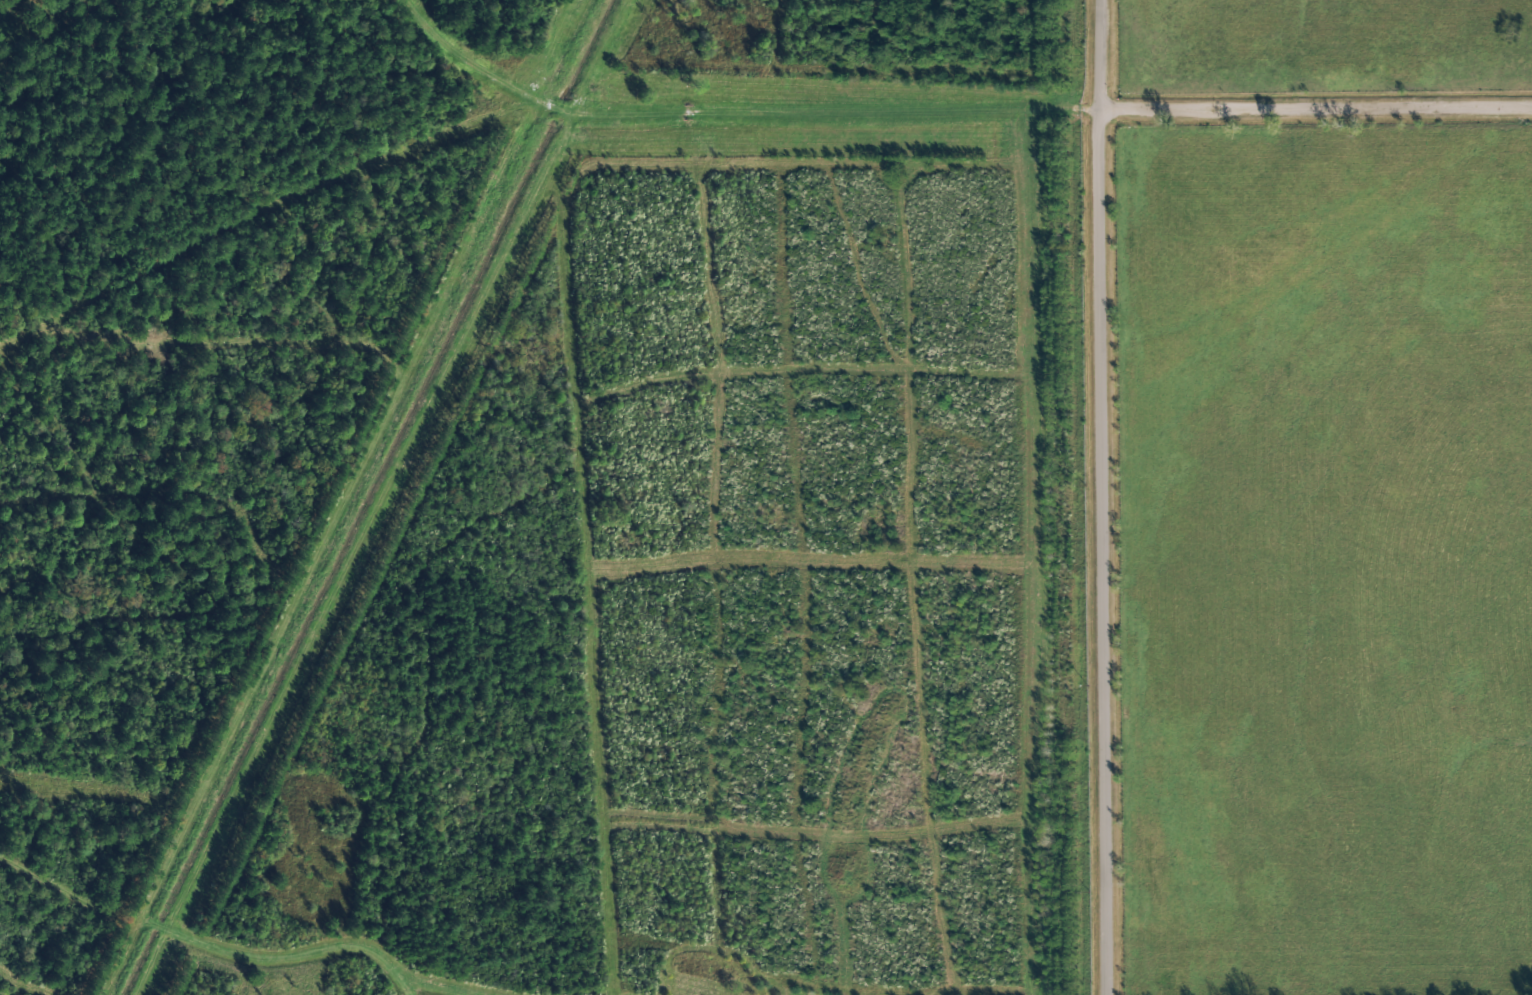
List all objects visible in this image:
road: (1316, 105)
road: (1103, 497)

